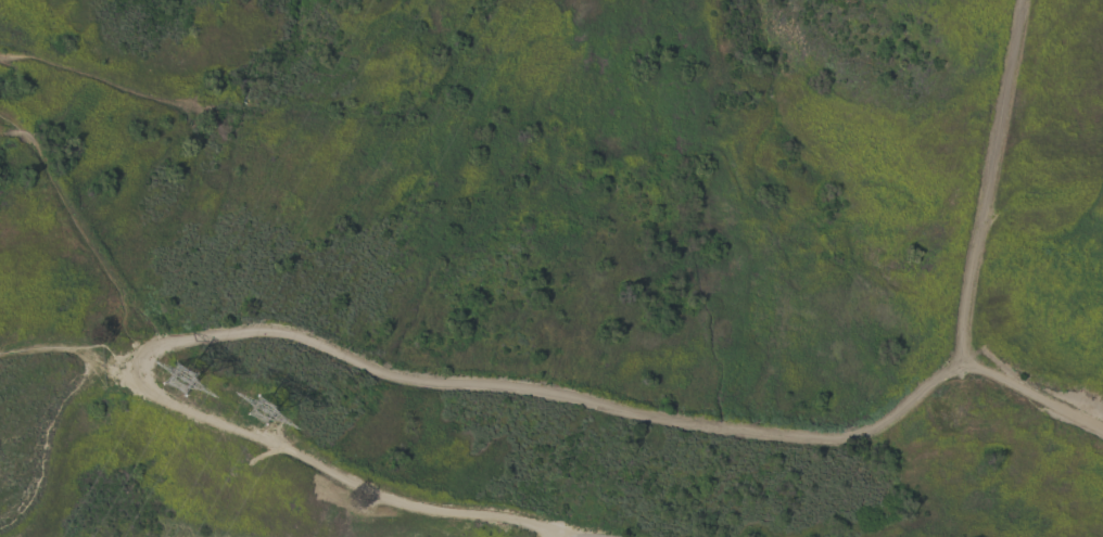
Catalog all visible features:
power tower: (178, 376)
road: (1035, 395)
power tower: (253, 402)

